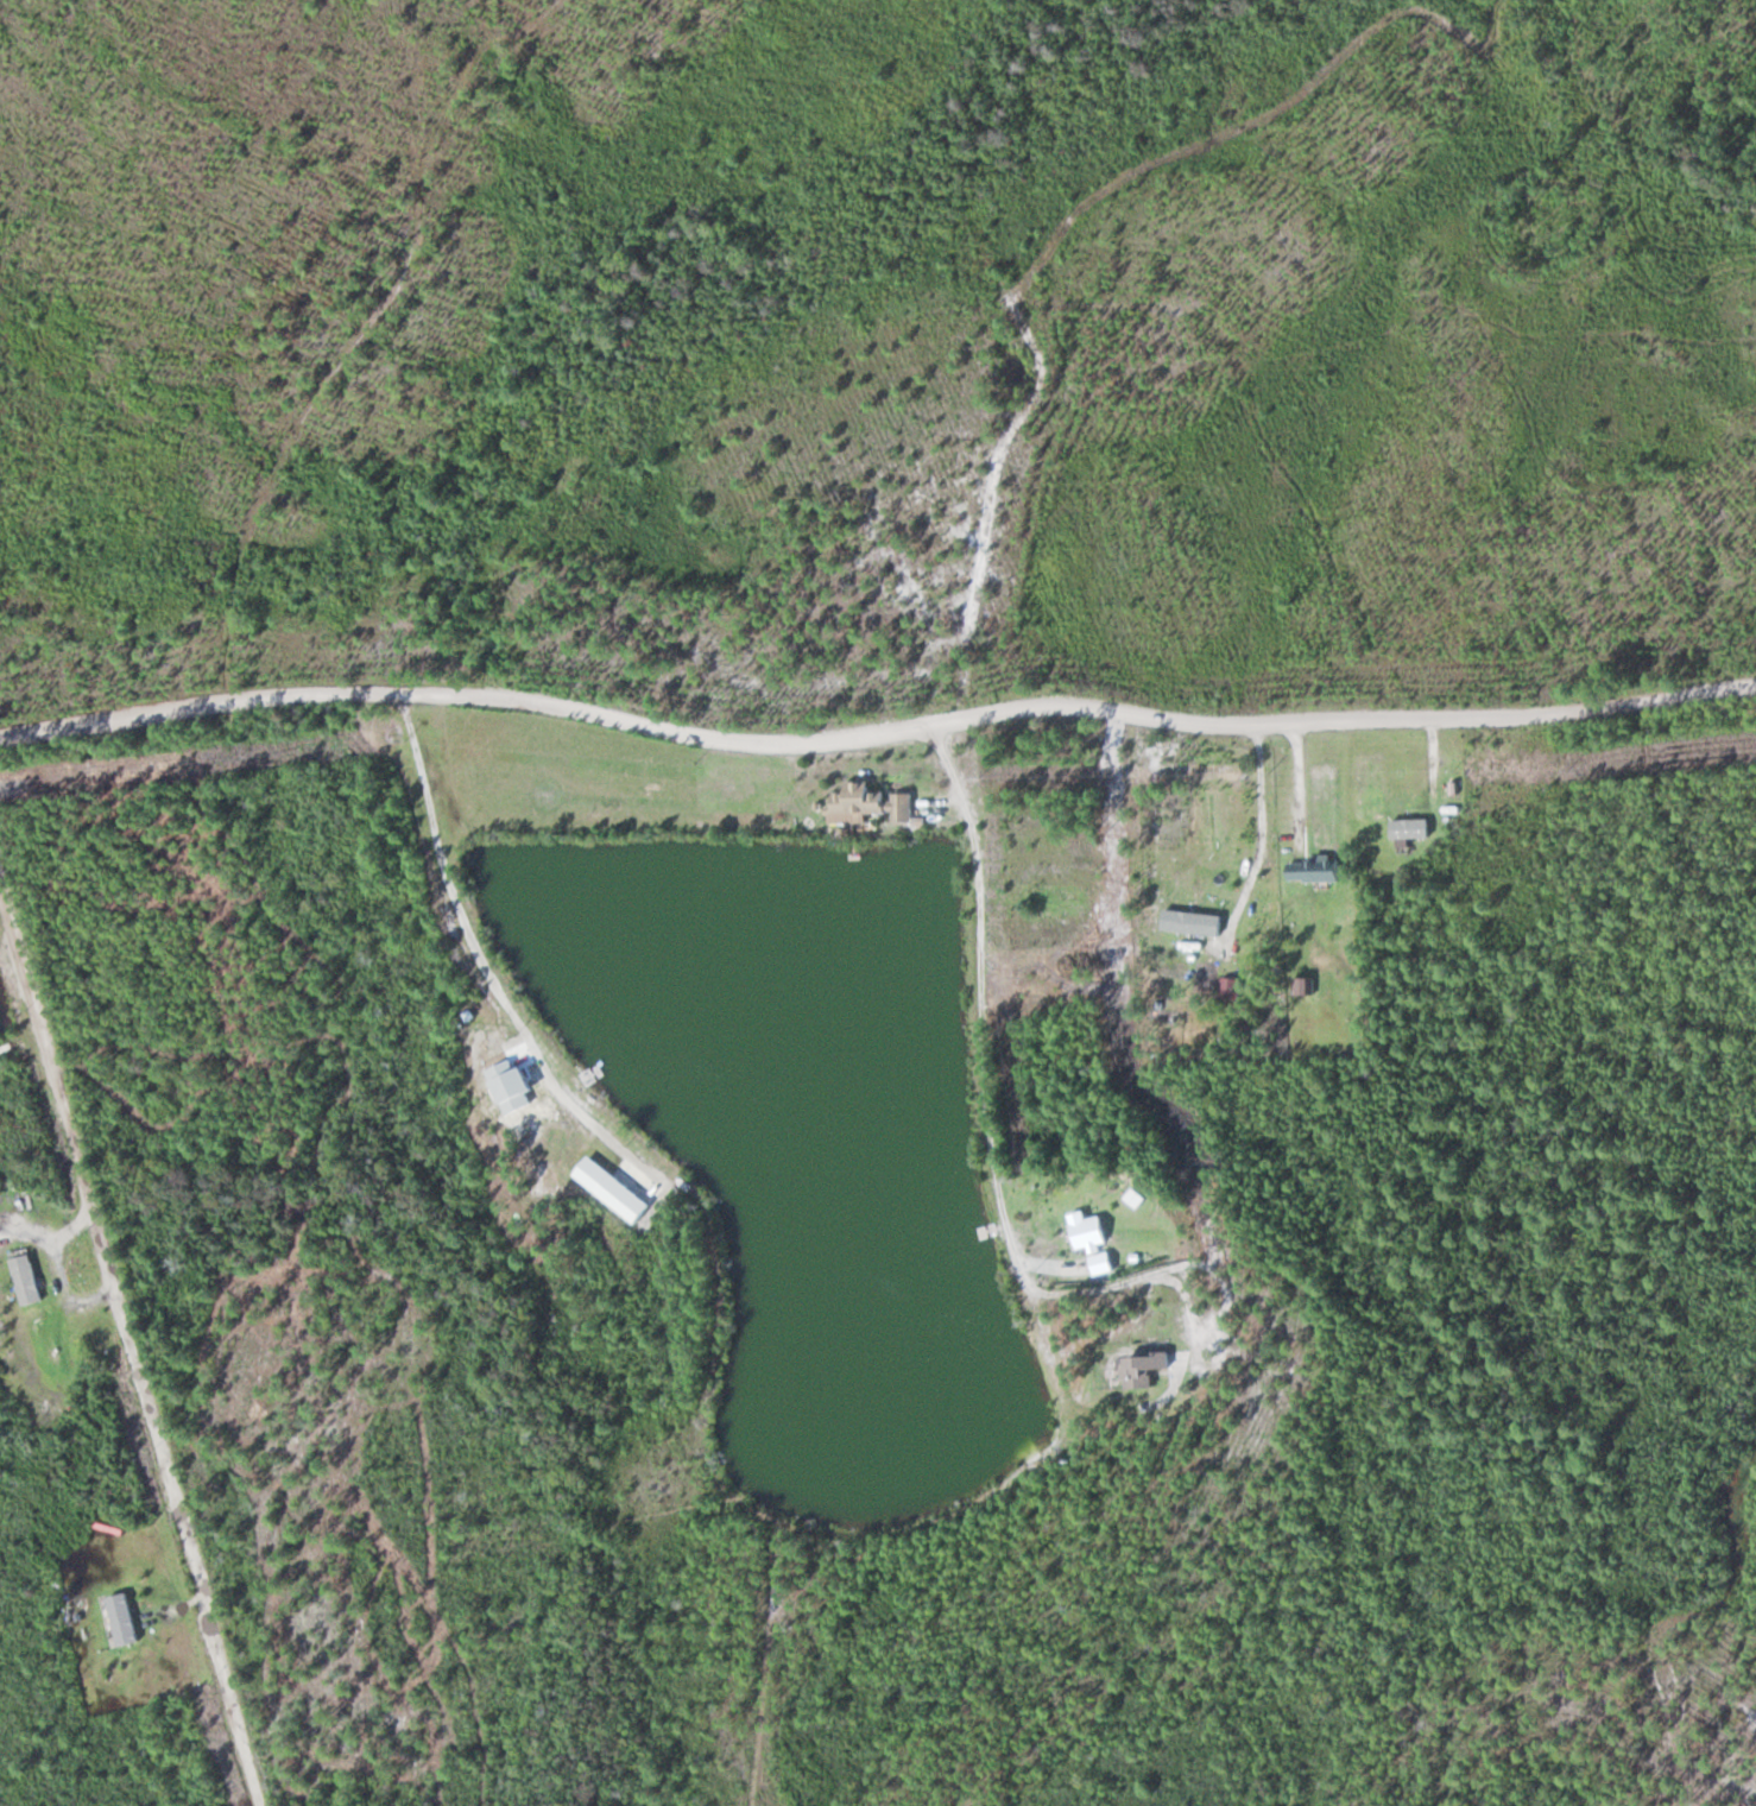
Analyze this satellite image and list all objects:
road: (877, 732)
building: (874, 803)
building: (1413, 829)
building: (1316, 870)
building: (1190, 903)
building: (1232, 987)
building: (1098, 1243)
building: (29, 1280)
building: (1148, 1370)
road: (817, 1527)
building: (109, 1619)

